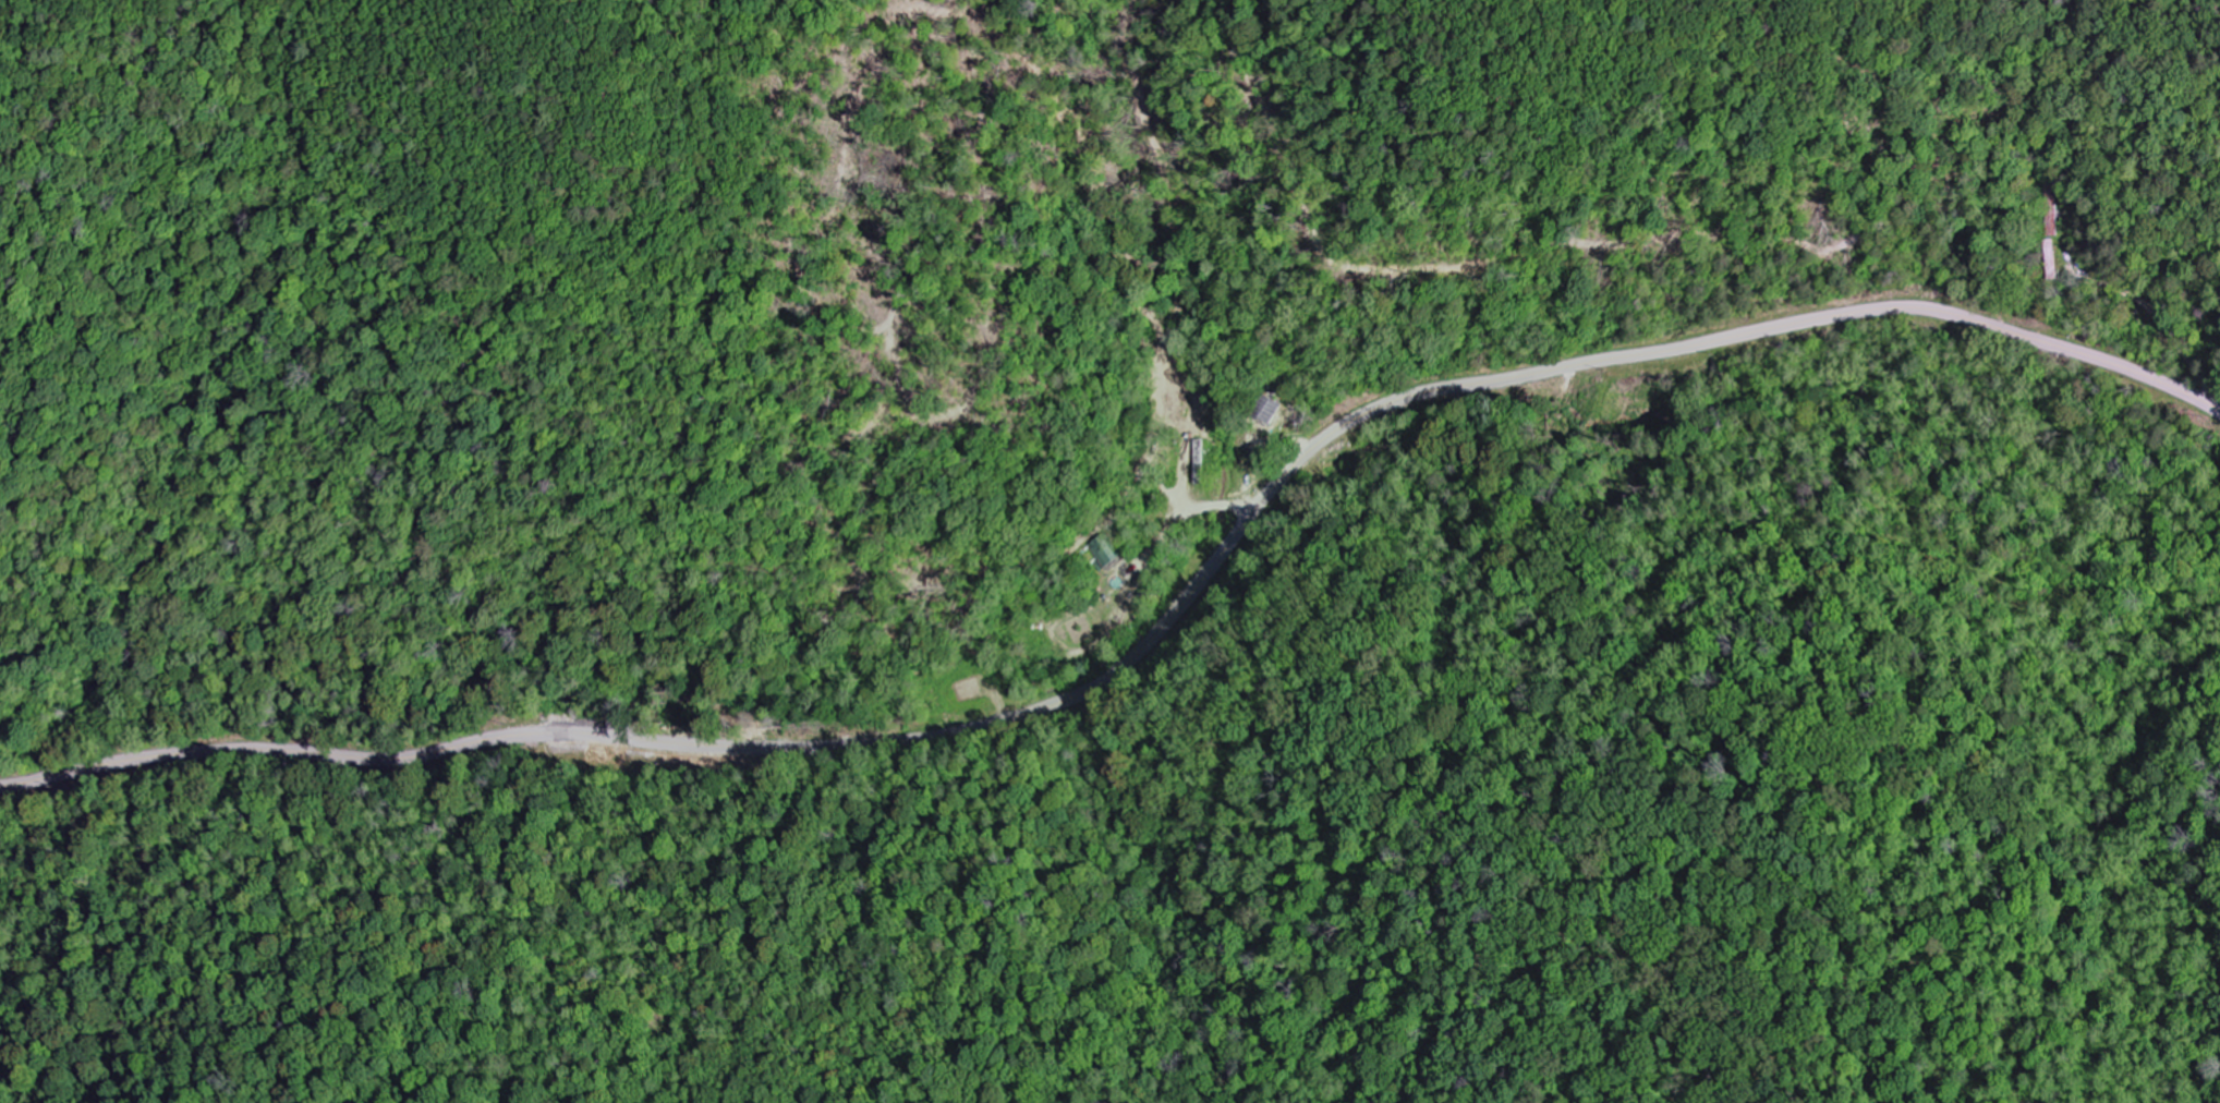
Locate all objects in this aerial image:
road: (2118, 319)
road: (1155, 635)

